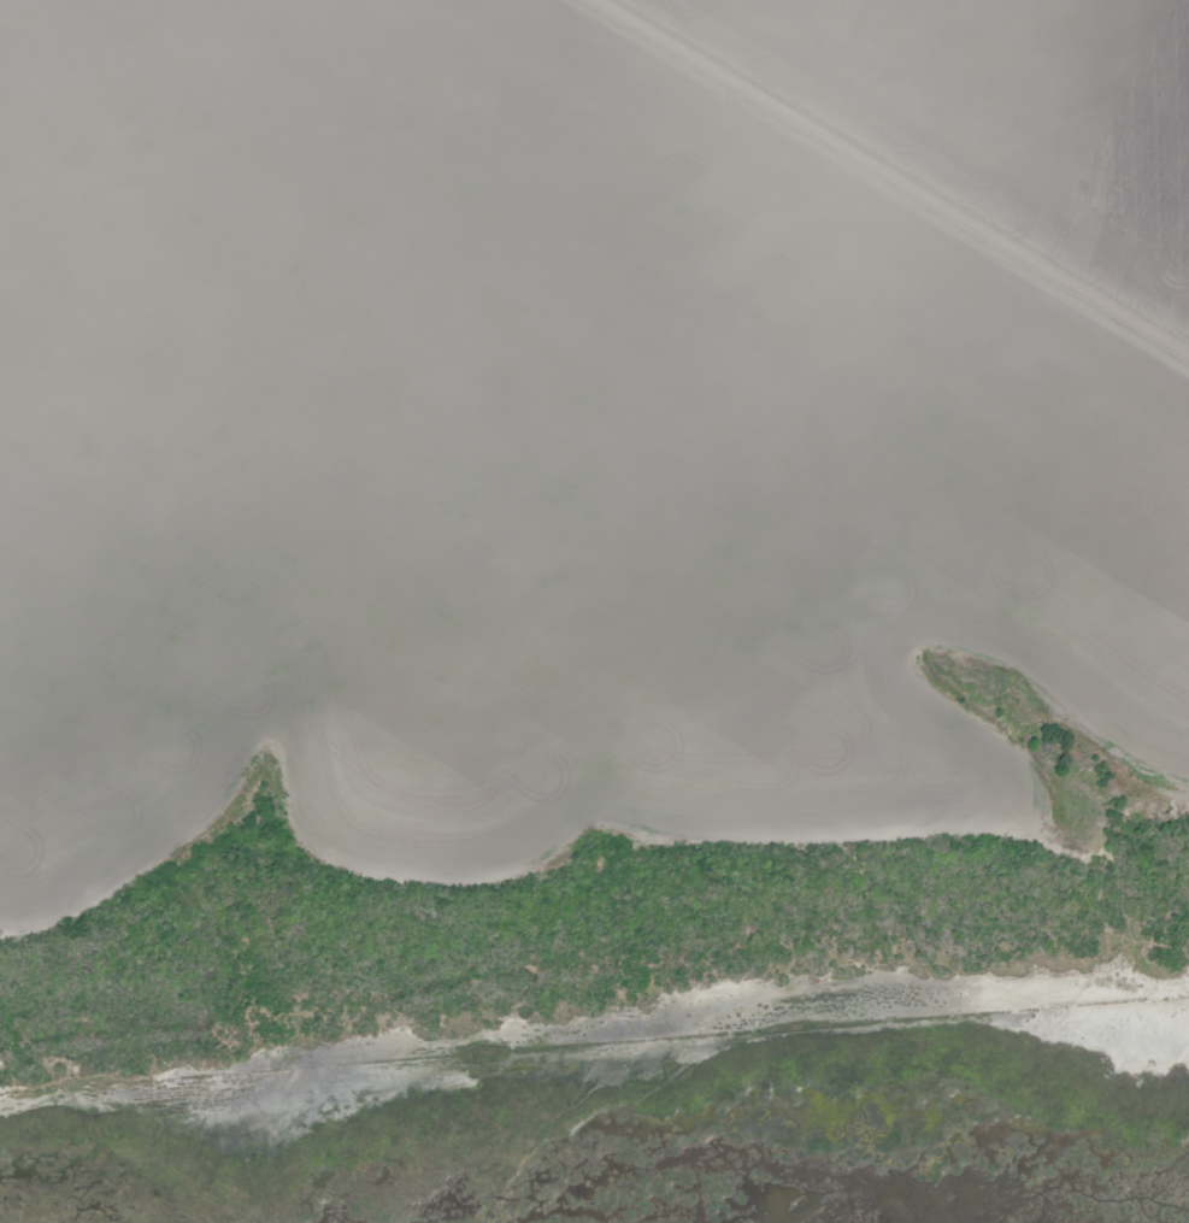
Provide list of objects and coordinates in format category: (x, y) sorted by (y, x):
road: (889, 180)

